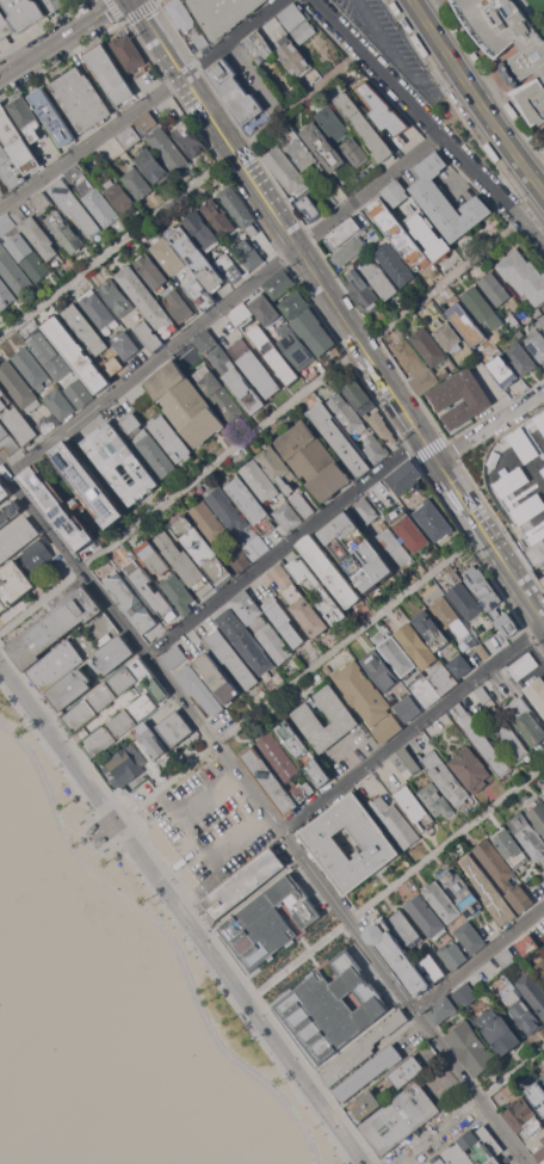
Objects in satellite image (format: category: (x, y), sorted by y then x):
building: (54, 5)
building: (25, 12)
building: (223, 13)
building: (293, 16)
building: (187, 20)
building: (5, 25)
building: (304, 31)
road: (60, 37)
road: (159, 38)
building: (259, 45)
building: (129, 51)
building: (295, 56)
road: (398, 56)
building: (523, 63)
building: (110, 73)
building: (235, 92)
road: (476, 96)
building: (81, 99)
road: (142, 106)
building: (383, 109)
building: (52, 116)
building: (26, 117)
building: (147, 121)
building: (256, 121)
building: (333, 123)
road: (428, 123)
building: (365, 125)
building: (129, 136)
building: (190, 140)
building: (320, 140)
building: (17, 141)
building: (168, 149)
building: (299, 149)
building: (356, 152)
building: (4, 154)
building: (153, 166)
building: (285, 170)
building: (76, 172)
building: (12, 173)
building: (137, 181)
building: (1, 191)
building: (396, 192)
building: (120, 195)
road: (181, 195)
building: (447, 201)
building: (42, 202)
building: (98, 202)
building: (74, 205)
building: (310, 207)
building: (237, 208)
building: (218, 217)
building: (202, 230)
building: (64, 232)
building: (36, 233)
building: (344, 233)
building: (400, 233)
building: (431, 236)
building: (376, 239)
building: (245, 248)
building: (24, 251)
building: (351, 251)
building: (168, 255)
building: (196, 257)
building: (253, 259)
building: (396, 264)
building: (228, 265)
building: (13, 271)
building: (152, 271)
building: (524, 275)
building: (381, 278)
building: (279, 283)
building: (495, 289)
building: (364, 291)
building: (200, 294)
building: (6, 295)
building: (116, 297)
building: (148, 301)
road: (223, 304)
building: (180, 306)
building: (483, 307)
building: (265, 309)
building: (98, 310)
building: (538, 312)
building: (241, 314)
building: (513, 320)
building: (307, 321)
building: (542, 322)
building: (86, 330)
building: (149, 335)
building: (449, 337)
building: (206, 340)
building: (536, 340)
building: (125, 345)
building: (295, 346)
building: (429, 346)
road: (365, 349)
building: (78, 353)
building: (273, 353)
building: (51, 357)
building: (521, 358)
building: (31, 367)
building: (416, 367)
building: (254, 368)
building: (445, 374)
building: (236, 378)
building: (18, 387)
building: (79, 393)
building: (221, 395)
building: (138, 396)
building: (460, 396)
building: (60, 404)
building: (185, 404)
building: (369, 409)
building: (348, 413)
building: (16, 418)
building: (48, 421)
building: (132, 423)
road: (489, 425)
road: (260, 426)
building: (171, 438)
building: (340, 438)
building: (7, 441)
building: (376, 449)
building: (155, 454)
building: (314, 460)
building: (120, 463)
building: (277, 467)
building: (406, 476)
building: (259, 480)
building: (4, 489)
building: (73, 495)
building: (249, 503)
building: (302, 503)
building: (227, 509)
building: (366, 510)
building: (8, 511)
building: (289, 516)
building: (434, 519)
building: (409, 528)
building: (220, 535)
building: (17, 537)
building: (396, 544)
building: (256, 547)
road: (285, 547)
building: (200, 548)
building: (357, 550)
building: (37, 558)
building: (152, 558)
building: (185, 563)
building: (330, 569)
building: (279, 574)
building: (543, 579)
building: (14, 585)
building: (482, 587)
building: (323, 589)
building: (152, 592)
building: (179, 592)
building: (466, 601)
building: (130, 602)
building: (247, 606)
building: (305, 610)
building: (450, 616)
building: (285, 623)
building: (508, 623)
building: (0, 624)
building: (55, 629)
building: (432, 629)
building: (245, 640)
building: (274, 642)
building: (418, 645)
building: (484, 651)
building: (113, 654)
building: (397, 655)
building: (174, 657)
building: (231, 657)
building: (460, 665)
building: (524, 665)
building: (55, 666)
building: (381, 670)
road: (303, 673)
building: (217, 677)
building: (149, 678)
building: (123, 679)
building: (435, 684)
building: (69, 689)
building: (200, 689)
building: (537, 691)
building: (363, 692)
building: (483, 694)
building: (103, 696)
building: (143, 706)
building: (409, 708)
building: (80, 716)
building: (308, 718)
building: (527, 720)
building: (122, 722)
road: (413, 727)
building: (175, 728)
building: (388, 728)
building: (508, 734)
building: (293, 738)
building: (98, 740)
building: (152, 740)
building: (482, 741)
building: (416, 745)
building: (279, 756)
building: (408, 762)
building: (125, 765)
building: (472, 769)
building: (319, 772)
building: (446, 777)
building: (270, 781)
building: (303, 790)
building: (543, 794)
building: (435, 799)
building: (414, 807)
road: (267, 811)
building: (537, 812)
building: (396, 821)
parking lot: (210, 825)
building: (92, 829)
building: (528, 834)
road: (190, 838)
building: (100, 840)
building: (377, 843)
building: (512, 849)
building: (503, 874)
building: (243, 883)
road: (395, 883)
park: (31, 886)
building: (488, 889)
building: (462, 892)
building: (441, 901)
park: (11, 911)
road: (185, 911)
building: (426, 916)
building: (270, 923)
building: (407, 929)
road: (168, 935)
building: (469, 937)
building: (527, 944)
building: (453, 955)
building: (397, 956)
road: (478, 957)
building: (506, 957)
building: (432, 968)
building: (540, 969)
building: (532, 991)
building: (465, 994)
building: (329, 1009)
building: (443, 1009)
building: (521, 1010)
building: (497, 1030)
building: (471, 1047)
building: (361, 1049)
building: (369, 1072)
building: (542, 1077)
building: (385, 1088)
building: (536, 1095)
road: (469, 1107)
building: (400, 1117)
building: (524, 1117)
building: (470, 1150)
building: (539, 1154)

